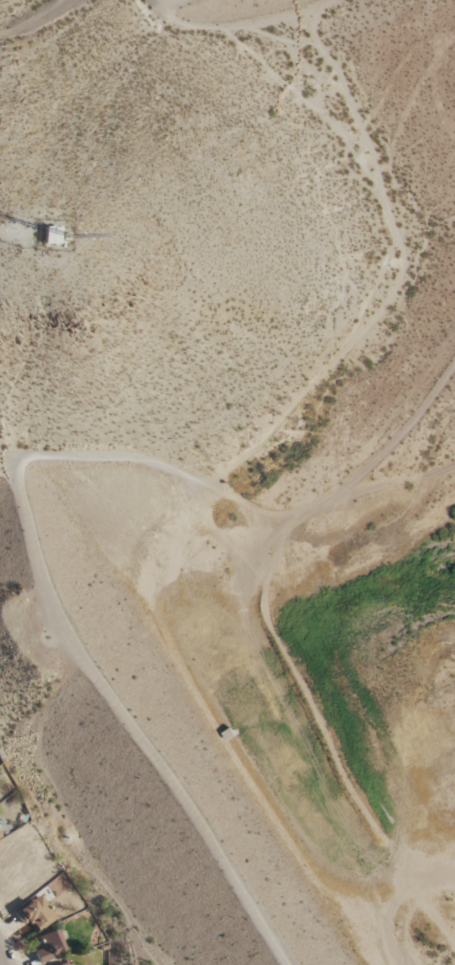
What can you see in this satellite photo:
building: (49, 234)
park: (232, 470)
dam: (117, 723)
building: (35, 912)
building: (47, 945)
road: (3, 957)
building: (62, 964)

